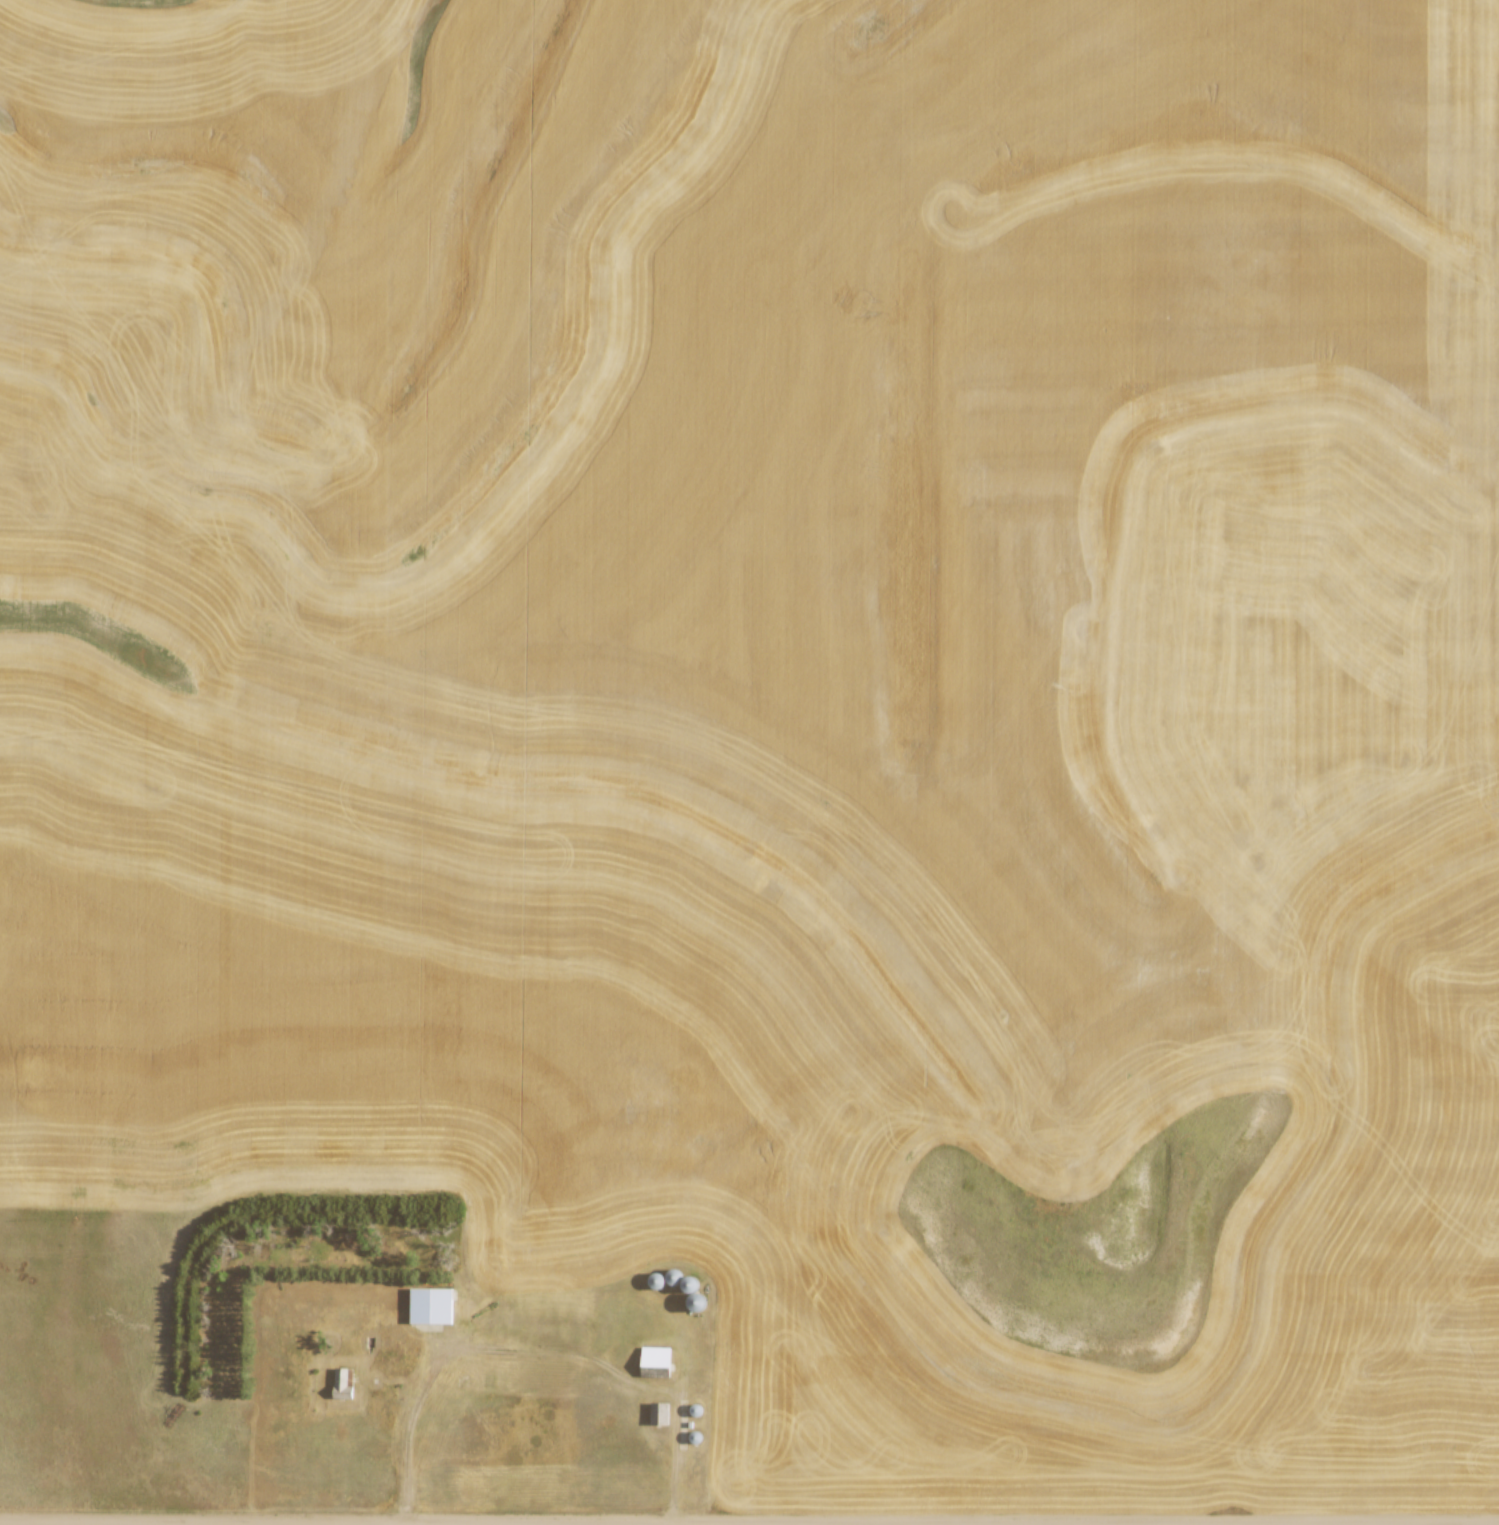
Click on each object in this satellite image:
silo: (671, 1274)
silo: (655, 1278)
silo: (688, 1281)
silo: (695, 1301)
building: (431, 1303)
road: (539, 1349)
building: (658, 1359)
building: (342, 1382)
silo: (694, 1408)
building: (658, 1412)
silo: (694, 1435)
road: (268, 1523)

